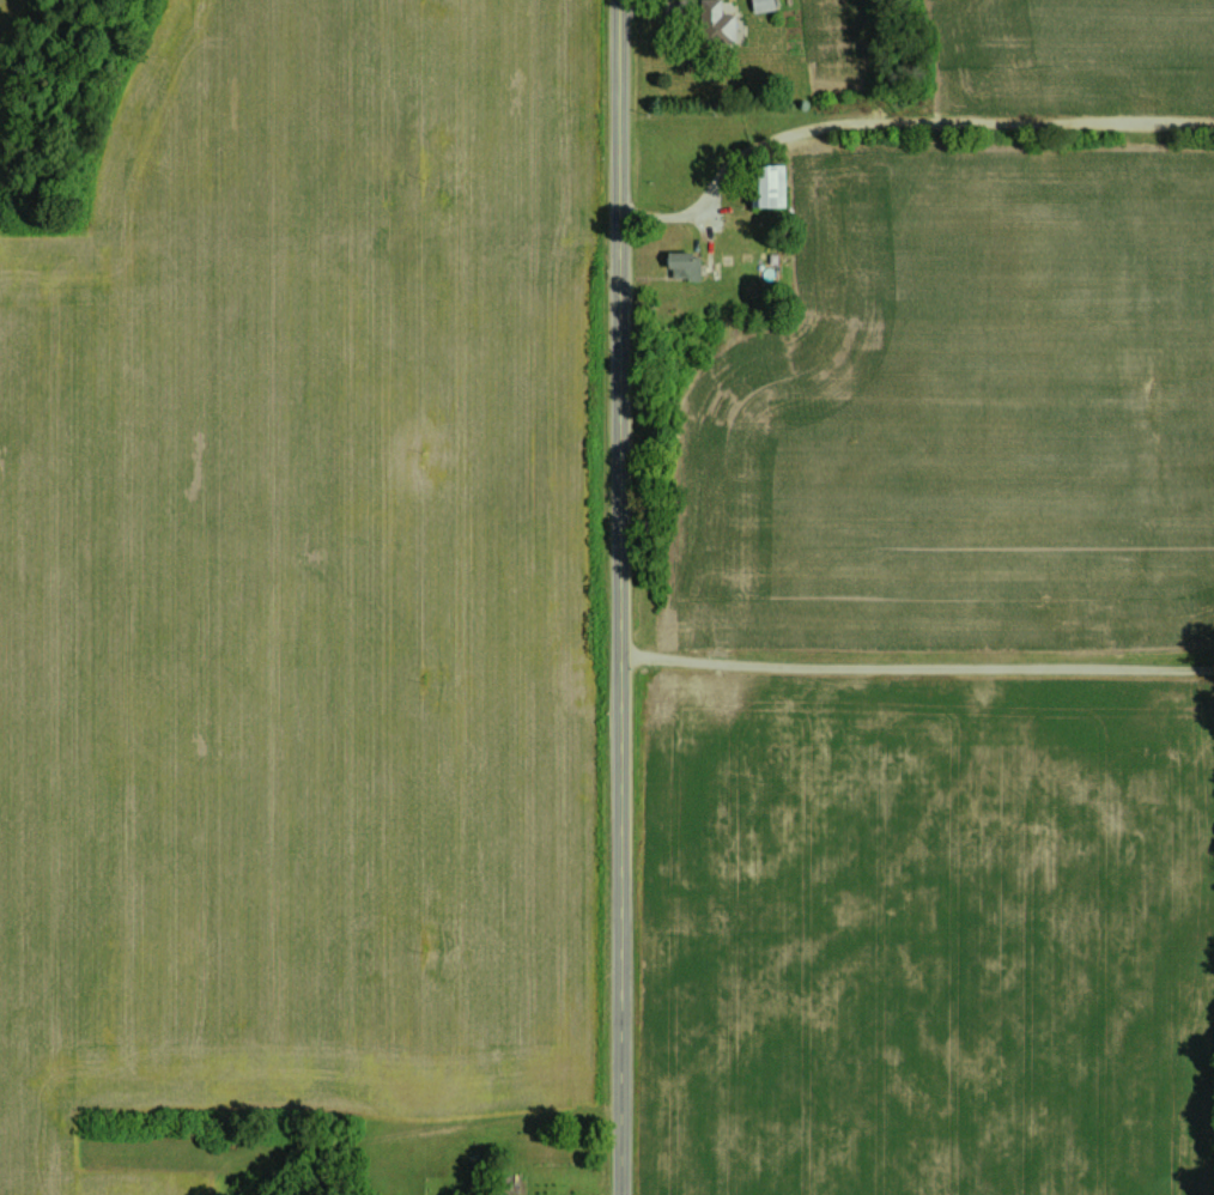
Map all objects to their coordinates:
building: (760, 5)
building: (715, 23)
road: (902, 105)
building: (764, 187)
building: (681, 263)
road: (620, 596)
road: (916, 667)
building: (499, 1184)

